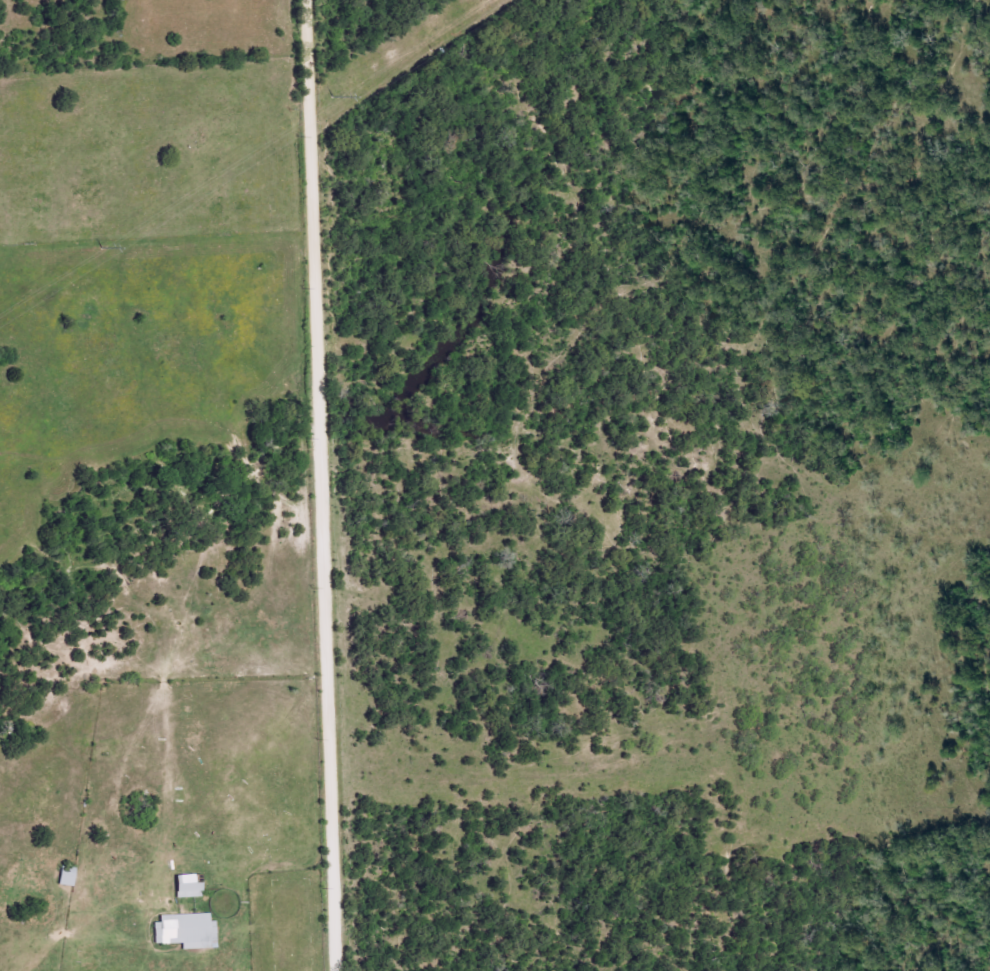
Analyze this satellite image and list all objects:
power tower: (331, 96)
power tower: (99, 248)
road: (321, 485)
building: (67, 876)
building: (186, 931)

